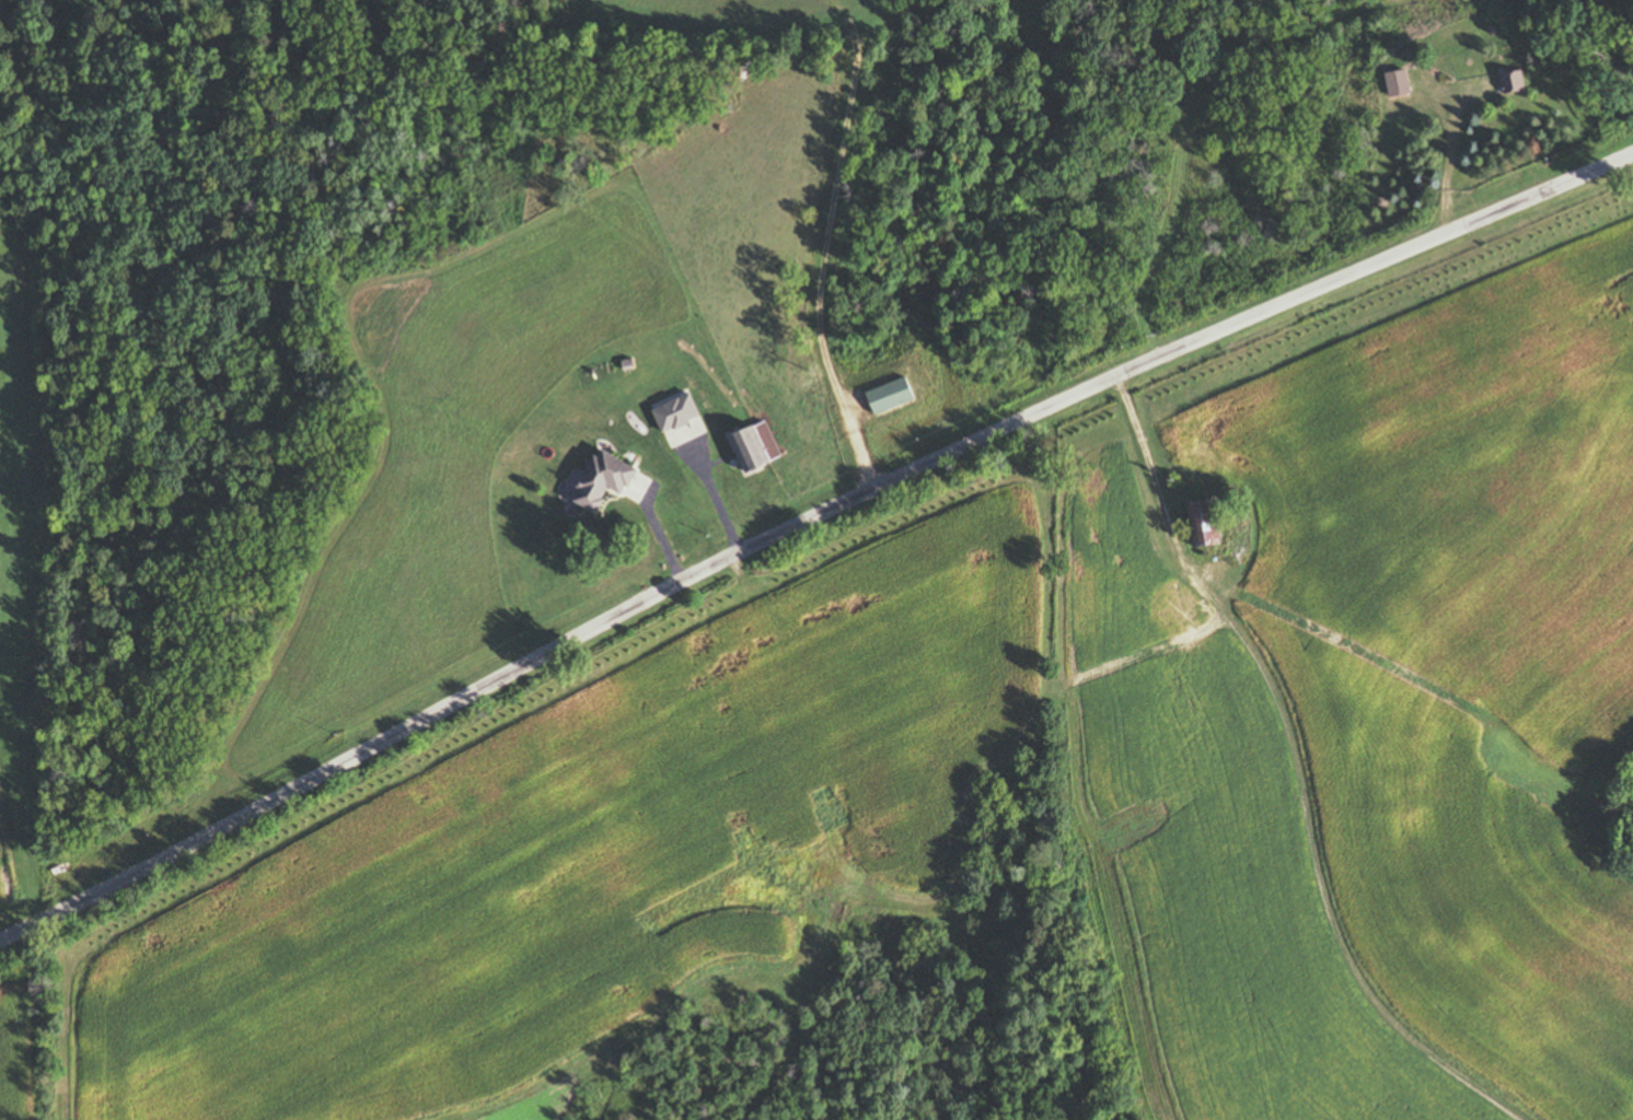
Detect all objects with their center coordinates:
building: (893, 398)
building: (757, 453)
building: (605, 482)
building: (1211, 527)
road: (809, 528)

